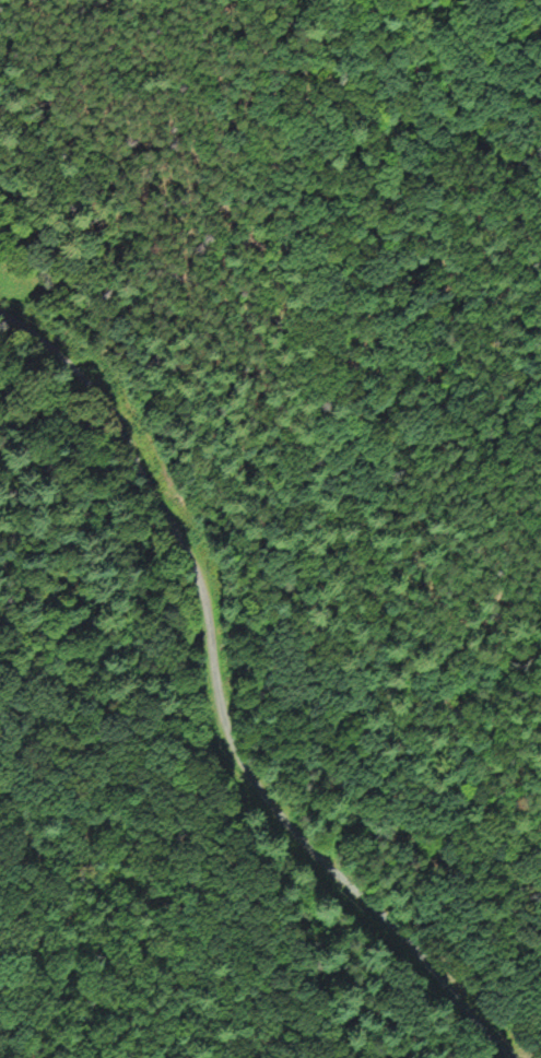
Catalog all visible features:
road: (216, 705)

